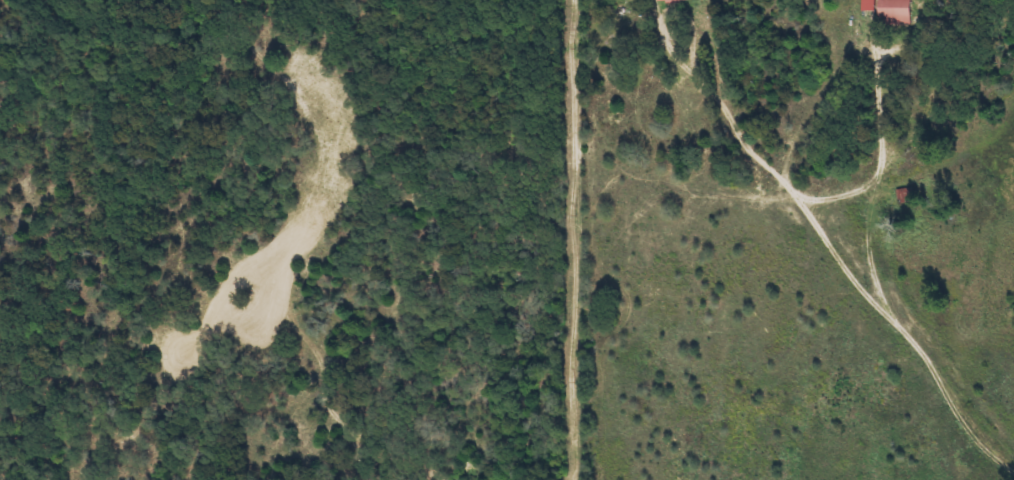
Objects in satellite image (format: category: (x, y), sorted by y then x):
building: (671, 1)
building: (869, 5)
building: (895, 11)

